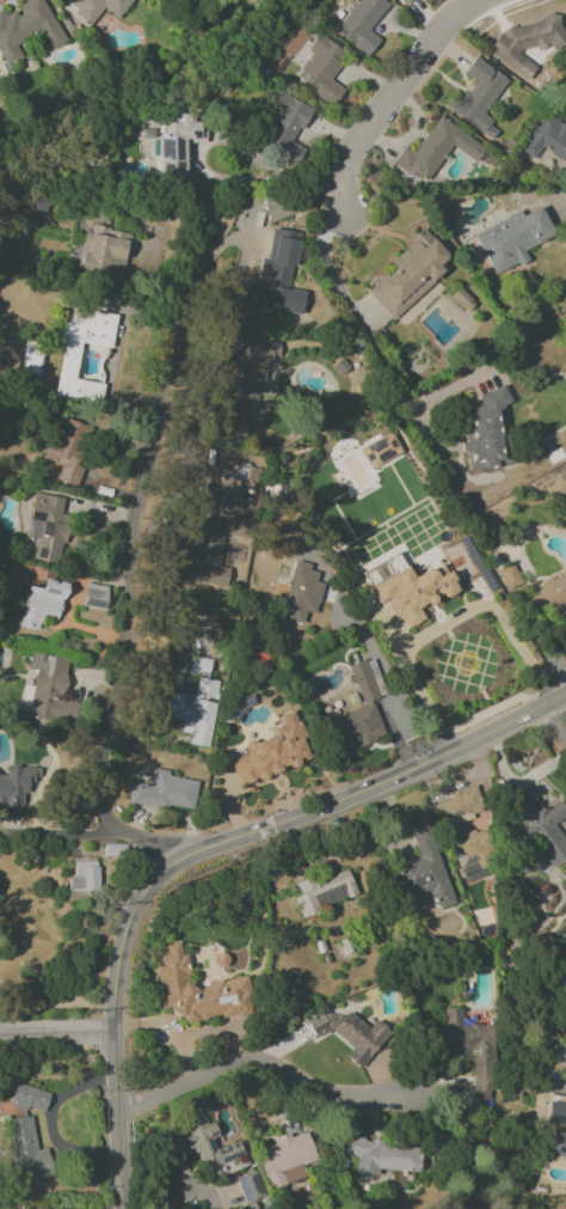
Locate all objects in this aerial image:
building: (400, 1)
building: (96, 7)
building: (362, 24)
building: (25, 29)
building: (527, 43)
building: (321, 69)
road: (390, 93)
building: (479, 96)
building: (287, 124)
building: (547, 139)
building: (177, 146)
building: (435, 151)
building: (273, 208)
building: (511, 238)
building: (103, 249)
building: (279, 270)
building: (407, 274)
road: (369, 343)
building: (260, 353)
building: (30, 358)
building: (68, 364)
road: (165, 378)
building: (242, 393)
building: (484, 431)
building: (67, 447)
building: (379, 451)
building: (47, 525)
building: (216, 547)
building: (507, 576)
building: (407, 588)
building: (300, 593)
building: (549, 597)
building: (41, 604)
road: (447, 622)
building: (197, 666)
building: (362, 680)
building: (47, 690)
building: (195, 710)
road: (559, 713)
road: (103, 727)
building: (357, 727)
building: (272, 751)
building: (17, 786)
building: (162, 792)
building: (541, 826)
building: (463, 831)
road: (60, 837)
road: (203, 850)
building: (423, 869)
building: (82, 878)
building: (325, 891)
building: (192, 990)
road: (56, 1031)
building: (351, 1032)
road: (185, 1033)
building: (470, 1050)
road: (273, 1070)
building: (29, 1098)
building: (555, 1110)
building: (558, 1144)
building: (211, 1148)
building: (26, 1152)
building: (380, 1155)
building: (285, 1159)
building: (248, 1189)

